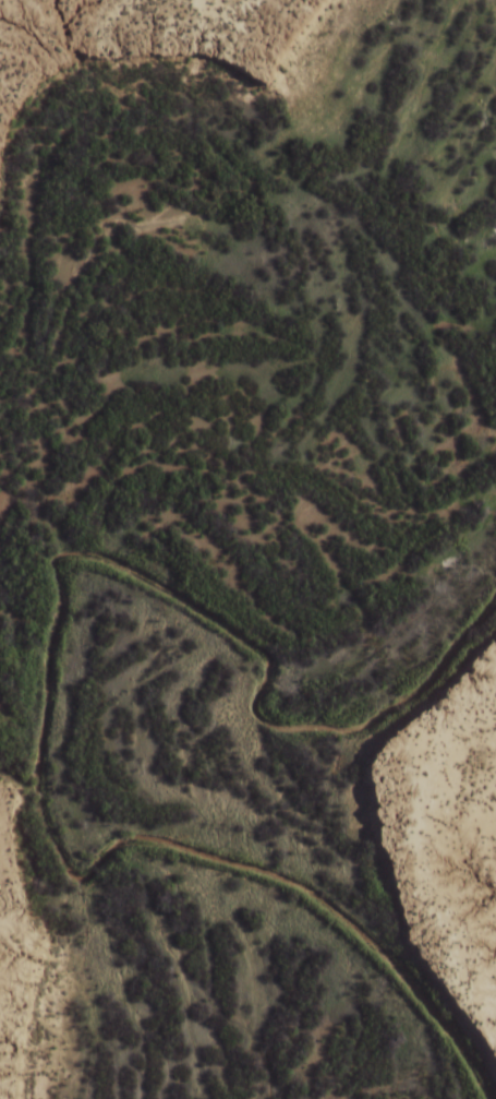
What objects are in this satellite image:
river: (87, 476)

